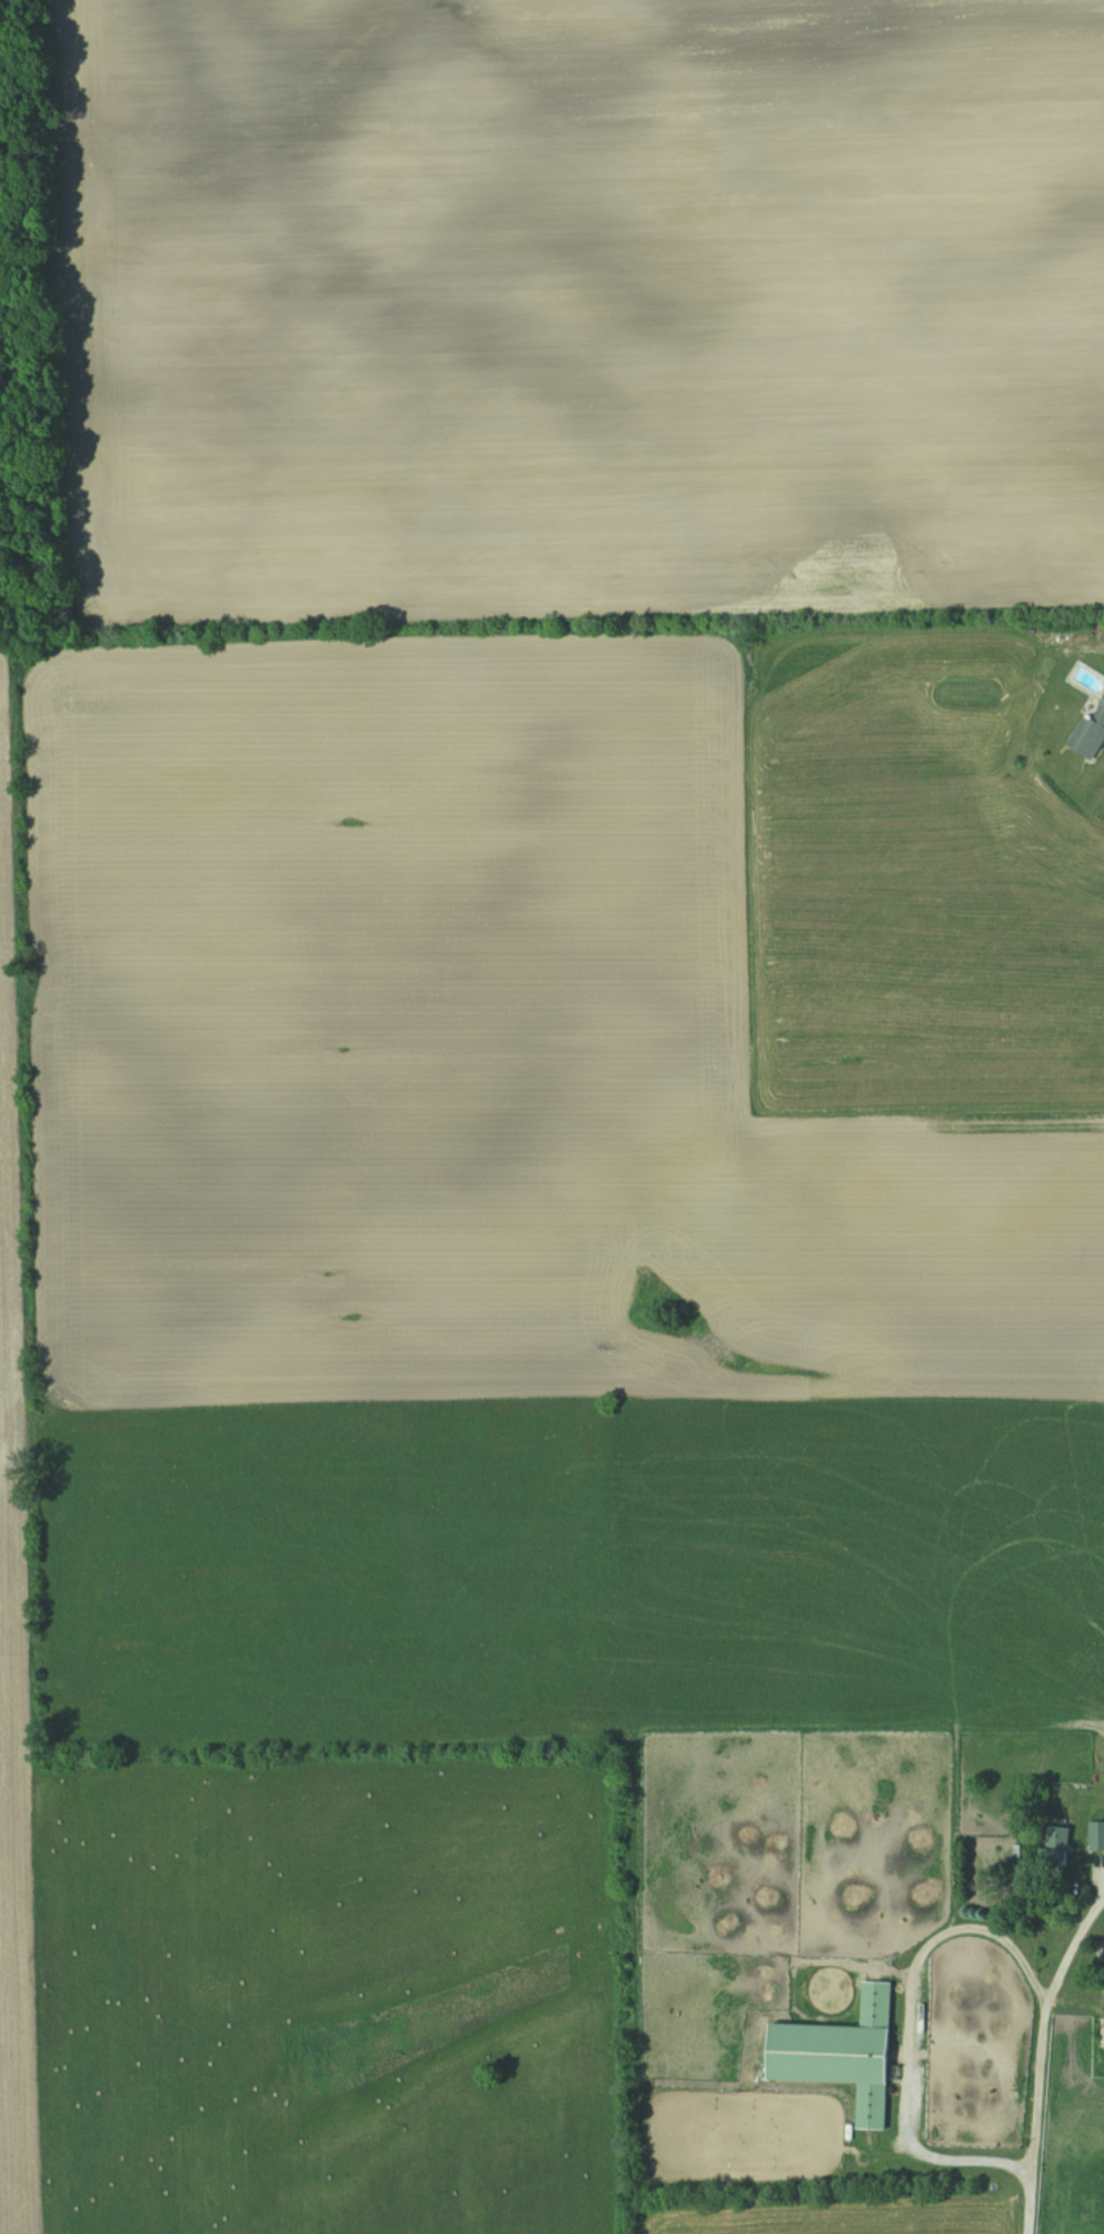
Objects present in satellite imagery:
building: (1092, 732)
building: (1096, 1835)
road: (911, 2033)
building: (843, 2054)
road: (1041, 2059)

